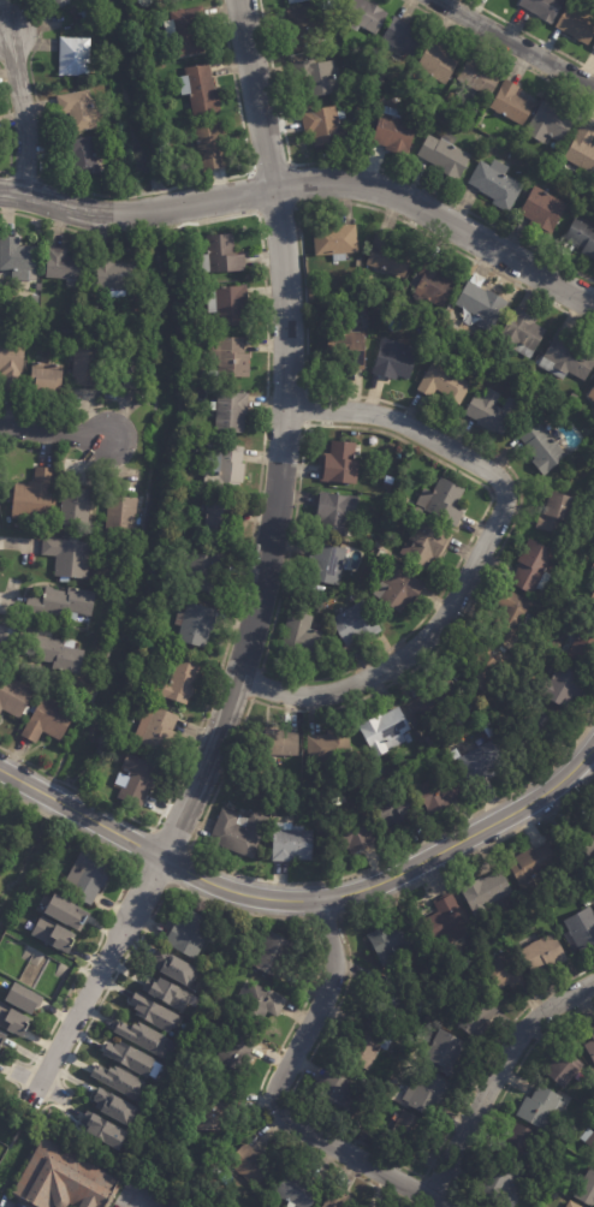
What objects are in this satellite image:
building: (176, 1)
building: (298, 1)
building: (59, 2)
building: (326, 6)
building: (543, 8)
building: (364, 17)
building: (93, 18)
building: (84, 26)
building: (576, 26)
building: (188, 31)
building: (302, 31)
road: (529, 35)
building: (404, 37)
road: (515, 43)
building: (593, 48)
building: (150, 52)
road: (498, 53)
building: (73, 58)
building: (438, 63)
building: (316, 78)
building: (479, 78)
building: (200, 91)
building: (450, 97)
building: (511, 105)
building: (79, 111)
road: (22, 112)
building: (550, 125)
road: (8, 126)
building: (323, 127)
building: (394, 132)
building: (164, 147)
building: (210, 147)
building: (582, 149)
building: (82, 157)
building: (445, 157)
road: (290, 162)
road: (373, 167)
building: (115, 171)
building: (531, 171)
road: (6, 174)
road: (309, 183)
building: (497, 186)
road: (132, 195)
building: (542, 212)
building: (582, 237)
building: (335, 239)
building: (17, 255)
building: (220, 255)
building: (388, 255)
building: (64, 264)
building: (180, 268)
building: (112, 277)
building: (434, 283)
building: (34, 301)
building: (228, 304)
building: (480, 305)
building: (203, 328)
building: (522, 332)
building: (345, 350)
building: (228, 357)
building: (394, 358)
building: (566, 358)
building: (11, 363)
building: (87, 367)
building: (124, 369)
building: (44, 376)
building: (444, 383)
road: (302, 393)
building: (592, 394)
building: (540, 399)
building: (572, 399)
building: (492, 410)
building: (230, 411)
road: (51, 416)
road: (54, 432)
building: (196, 439)
building: (541, 446)
building: (339, 464)
building: (222, 466)
road: (257, 486)
building: (34, 498)
building: (444, 504)
building: (75, 507)
building: (335, 512)
building: (556, 513)
building: (120, 516)
building: (219, 522)
building: (427, 543)
road: (480, 552)
building: (67, 555)
building: (323, 564)
building: (533, 567)
building: (201, 572)
road: (263, 573)
building: (398, 588)
building: (593, 599)
road: (468, 601)
building: (61, 602)
building: (510, 614)
building: (355, 623)
building: (194, 624)
building: (301, 637)
building: (586, 642)
road: (388, 648)
building: (57, 654)
building: (482, 667)
building: (178, 680)
road: (257, 685)
building: (560, 685)
building: (13, 696)
building: (436, 698)
building: (48, 720)
building: (156, 730)
building: (385, 732)
building: (529, 732)
building: (281, 743)
building: (429, 760)
building: (328, 761)
building: (481, 762)
building: (136, 780)
building: (441, 790)
park: (10, 813)
building: (396, 813)
road: (155, 828)
building: (239, 833)
building: (350, 834)
building: (290, 844)
building: (584, 848)
building: (533, 868)
building: (87, 875)
building: (487, 894)
road: (304, 899)
building: (587, 902)
building: (593, 903)
building: (64, 912)
road: (284, 917)
road: (323, 917)
building: (446, 921)
building: (581, 930)
building: (52, 934)
building: (189, 934)
building: (391, 939)
building: (273, 953)
building: (543, 955)
building: (174, 965)
building: (505, 973)
road: (66, 991)
building: (167, 992)
building: (22, 998)
building: (385, 1000)
building: (260, 1005)
building: (154, 1011)
building: (479, 1017)
building: (12, 1019)
building: (1, 1036)
building: (143, 1036)
building: (366, 1044)
building: (590, 1045)
building: (233, 1047)
building: (445, 1054)
building: (130, 1057)
building: (564, 1068)
road: (299, 1072)
road: (494, 1075)
building: (119, 1080)
building: (424, 1093)
road: (274, 1094)
road: (501, 1095)
building: (334, 1098)
building: (113, 1105)
building: (540, 1108)
building: (213, 1110)
building: (402, 1130)
building: (105, 1131)
building: (554, 1135)
building: (588, 1140)
building: (521, 1143)
building: (251, 1164)
building: (63, 1179)
building: (499, 1187)
road: (442, 1188)
building: (587, 1189)
building: (297, 1190)
parking lot: (133, 1195)
building: (551, 1196)
parking lot: (8, 1201)
building: (333, 1201)
road: (138, 1203)
building: (571, 1205)
building: (171, 1206)
building: (174, 1206)

